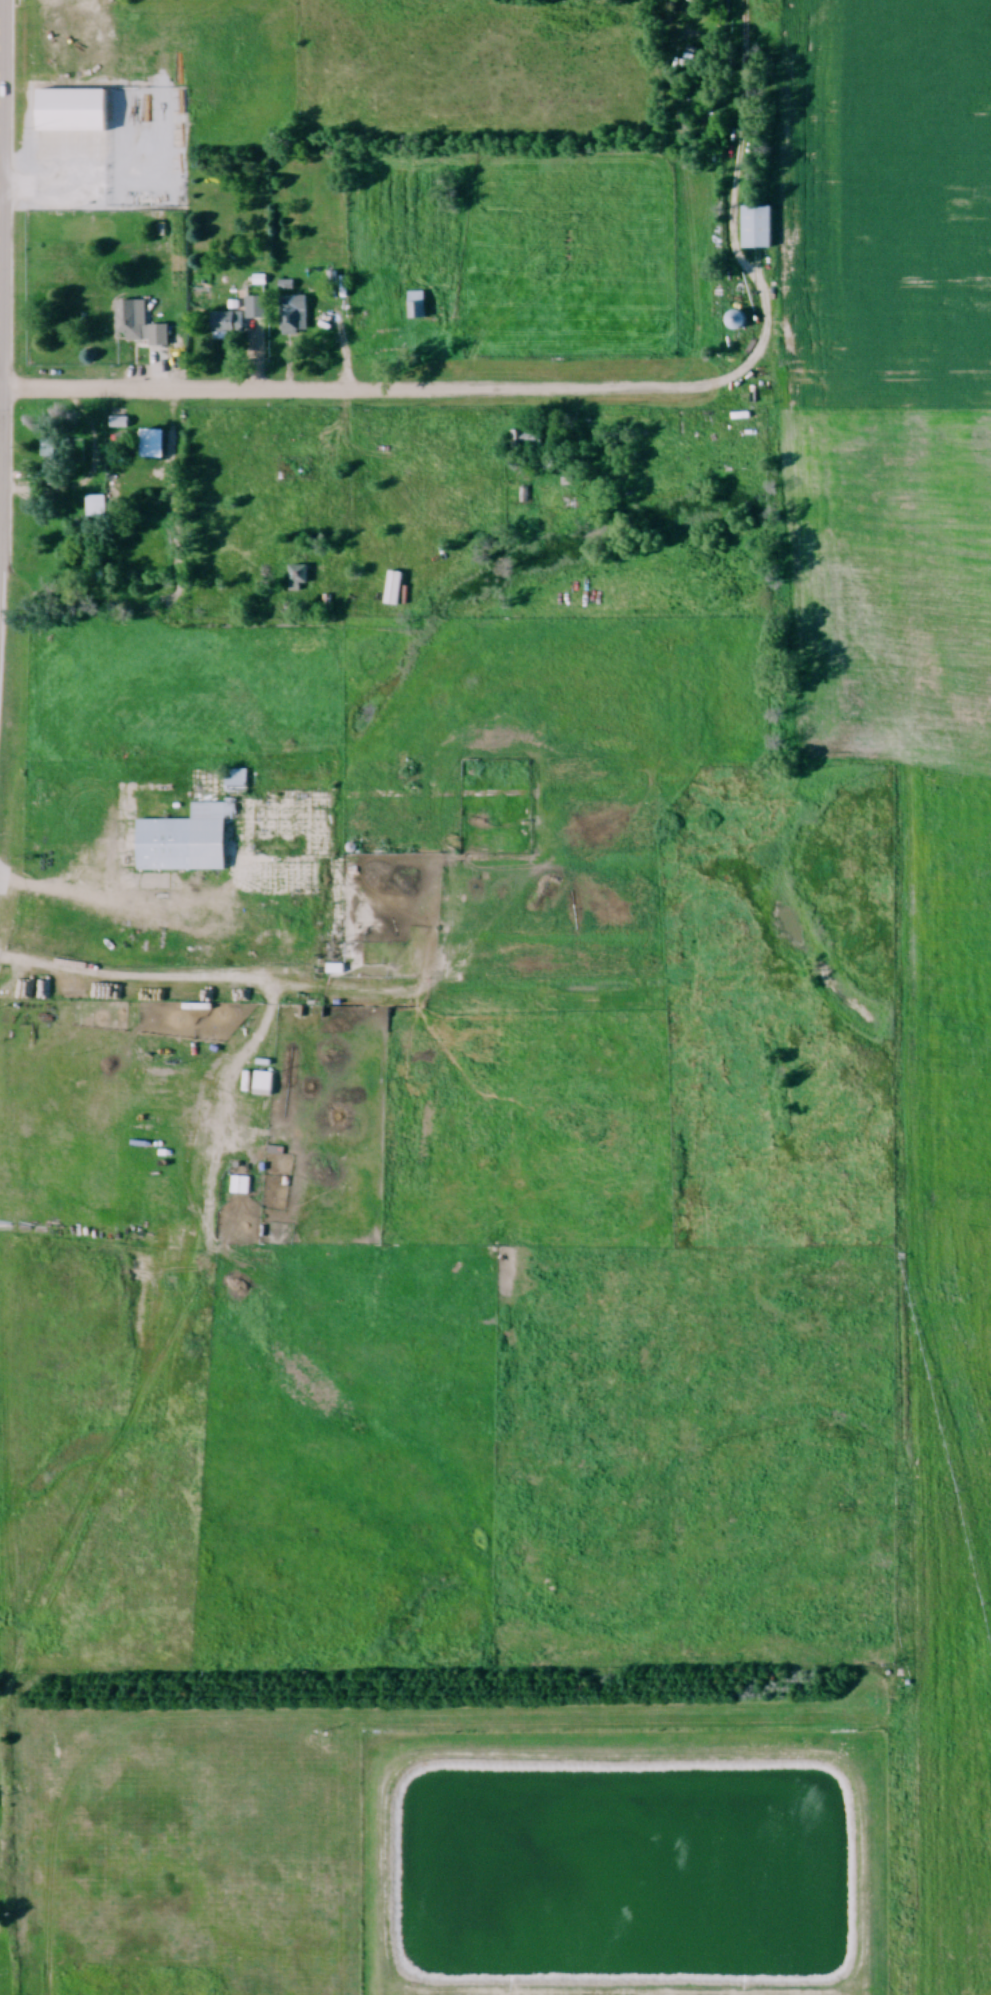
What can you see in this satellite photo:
building: (75, 112)
road: (0, 155)
road: (0, 195)
building: (759, 229)
building: (434, 283)
building: (418, 307)
building: (238, 320)
building: (132, 321)
building: (739, 322)
building: (294, 323)
building: (160, 337)
road: (277, 391)
building: (529, 441)
building: (97, 509)
building: (300, 580)
building: (270, 781)
building: (185, 843)
building: (264, 1084)

